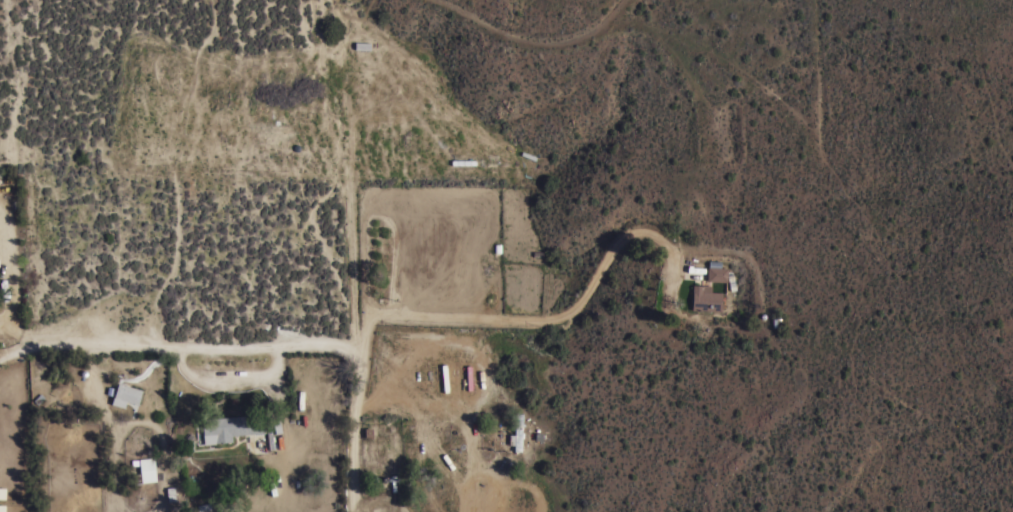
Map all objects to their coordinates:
building: (716, 273)
road: (8, 283)
building: (705, 297)
road: (371, 327)
road: (230, 380)
building: (127, 392)
building: (302, 405)
road: (456, 413)
road: (355, 426)
building: (230, 427)
building: (516, 432)
building: (145, 470)
building: (171, 493)

